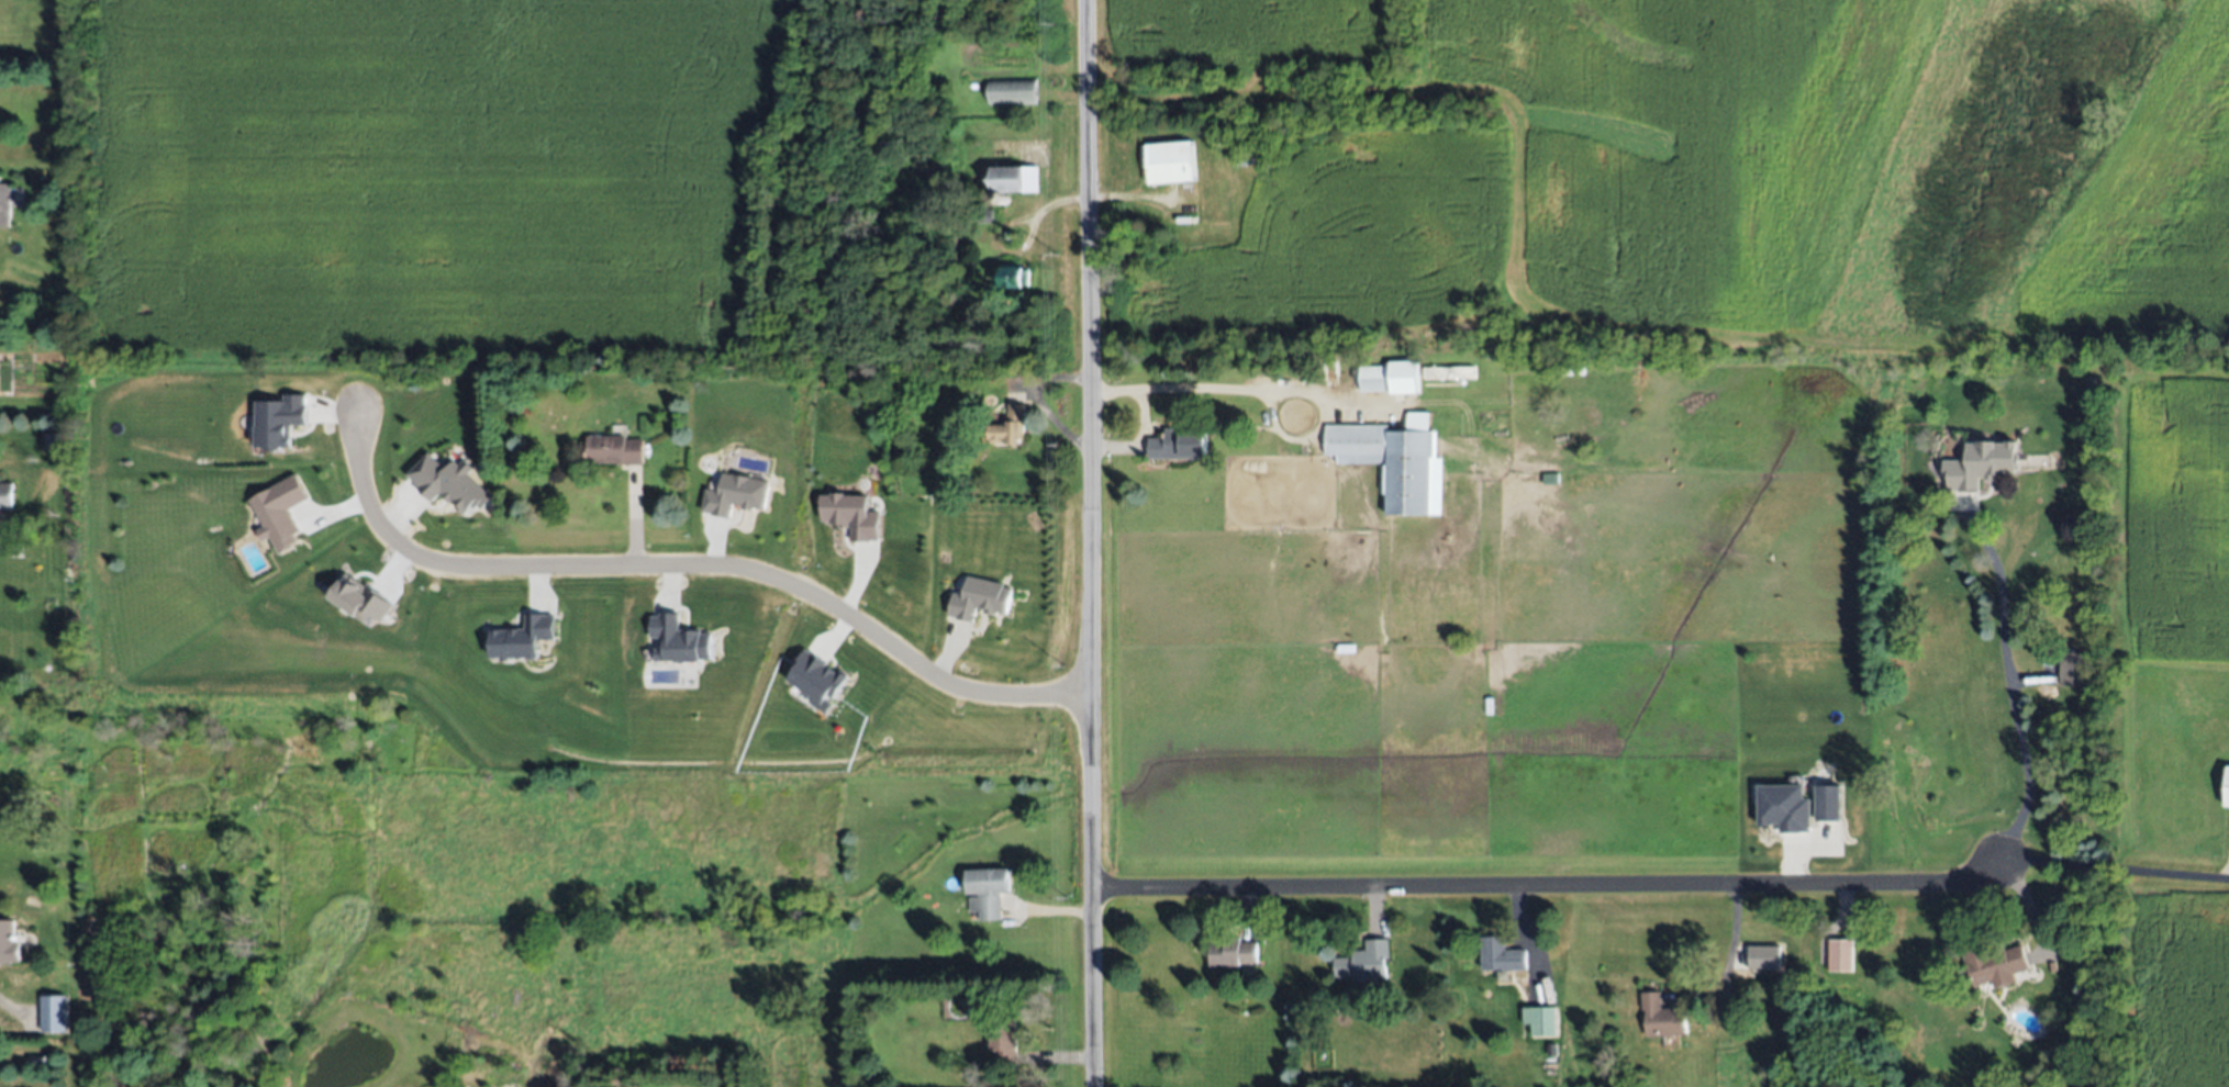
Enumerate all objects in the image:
building: (1011, 89)
building: (1245, 157)
building: (1170, 163)
building: (1014, 179)
building: (3, 203)
building: (979, 213)
building: (1013, 277)
building: (1387, 378)
road: (1242, 392)
building: (279, 422)
building: (1008, 426)
road: (1133, 439)
building: (52, 441)
building: (1178, 444)
building: (613, 449)
building: (1391, 459)
building: (1981, 464)
building: (2055, 488)
building: (458, 492)
building: (734, 496)
building: (7, 498)
building: (280, 514)
building: (850, 516)
road: (1092, 542)
road: (687, 568)
building: (361, 599)
building: (980, 599)
building: (522, 639)
building: (678, 641)
building: (2073, 670)
building: (818, 681)
road: (2010, 690)
building: (2226, 783)
building: (1828, 803)
building: (1784, 808)
road: (2114, 869)
road: (1553, 887)
building: (987, 892)
building: (8, 942)
building: (1234, 952)
building: (1501, 955)
road: (1728, 955)
building: (1840, 955)
building: (1765, 956)
building: (1366, 961)
building: (1993, 963)
building: (2051, 966)
building: (53, 1012)
building: (1661, 1016)
building: (1540, 1018)
building: (1736, 1030)
building: (1004, 1040)
building: (1551, 1049)
building: (1333, 1085)

